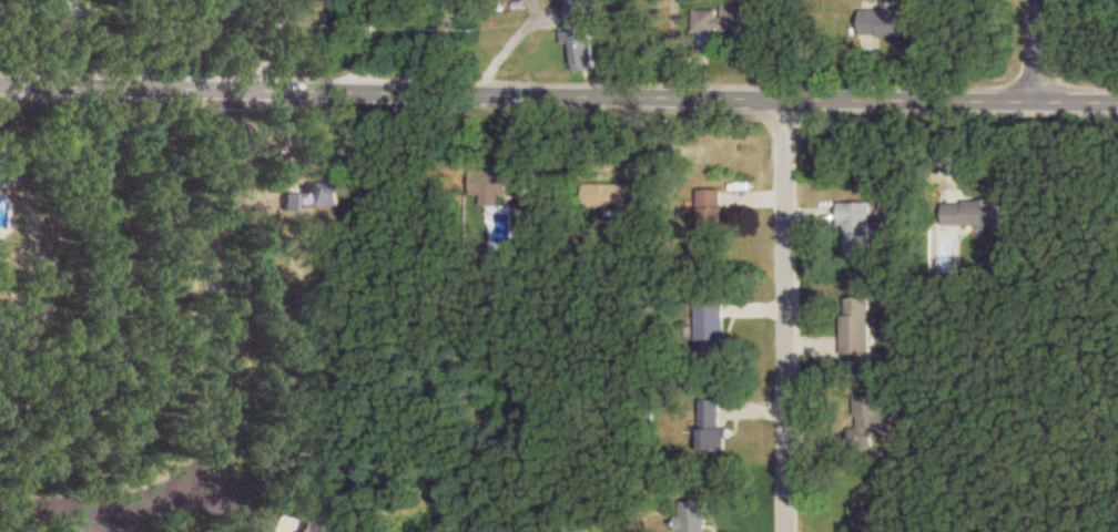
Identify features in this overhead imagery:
building: (576, 11)
building: (725, 18)
building: (886, 21)
road: (148, 41)
road: (268, 41)
road: (367, 44)
road: (445, 44)
building: (579, 47)
road: (1039, 49)
road: (558, 92)
building: (6, 175)
building: (603, 194)
building: (315, 195)
building: (972, 211)
building: (710, 216)
building: (855, 228)
road: (782, 315)
road: (220, 320)
building: (709, 325)
building: (856, 325)
building: (868, 423)
building: (712, 424)
road: (227, 487)
building: (693, 515)
building: (872, 520)

